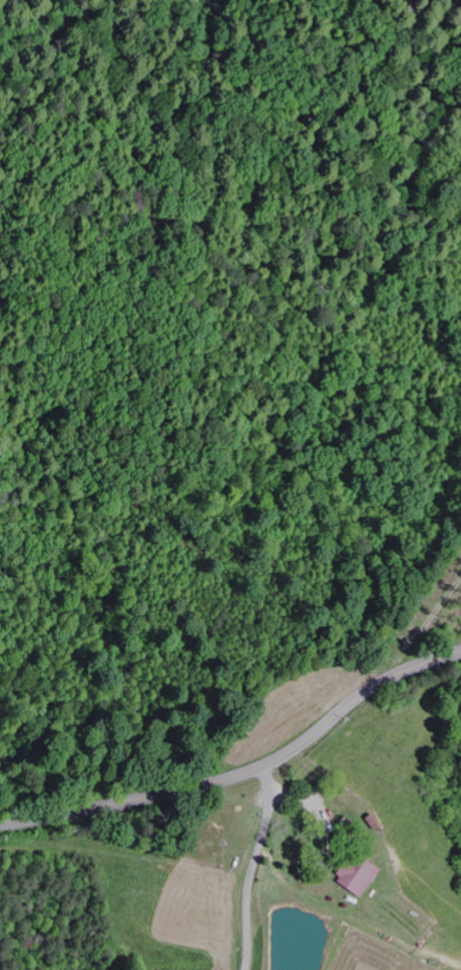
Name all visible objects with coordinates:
road: (244, 773)
road: (277, 831)
road: (254, 866)
building: (355, 877)

